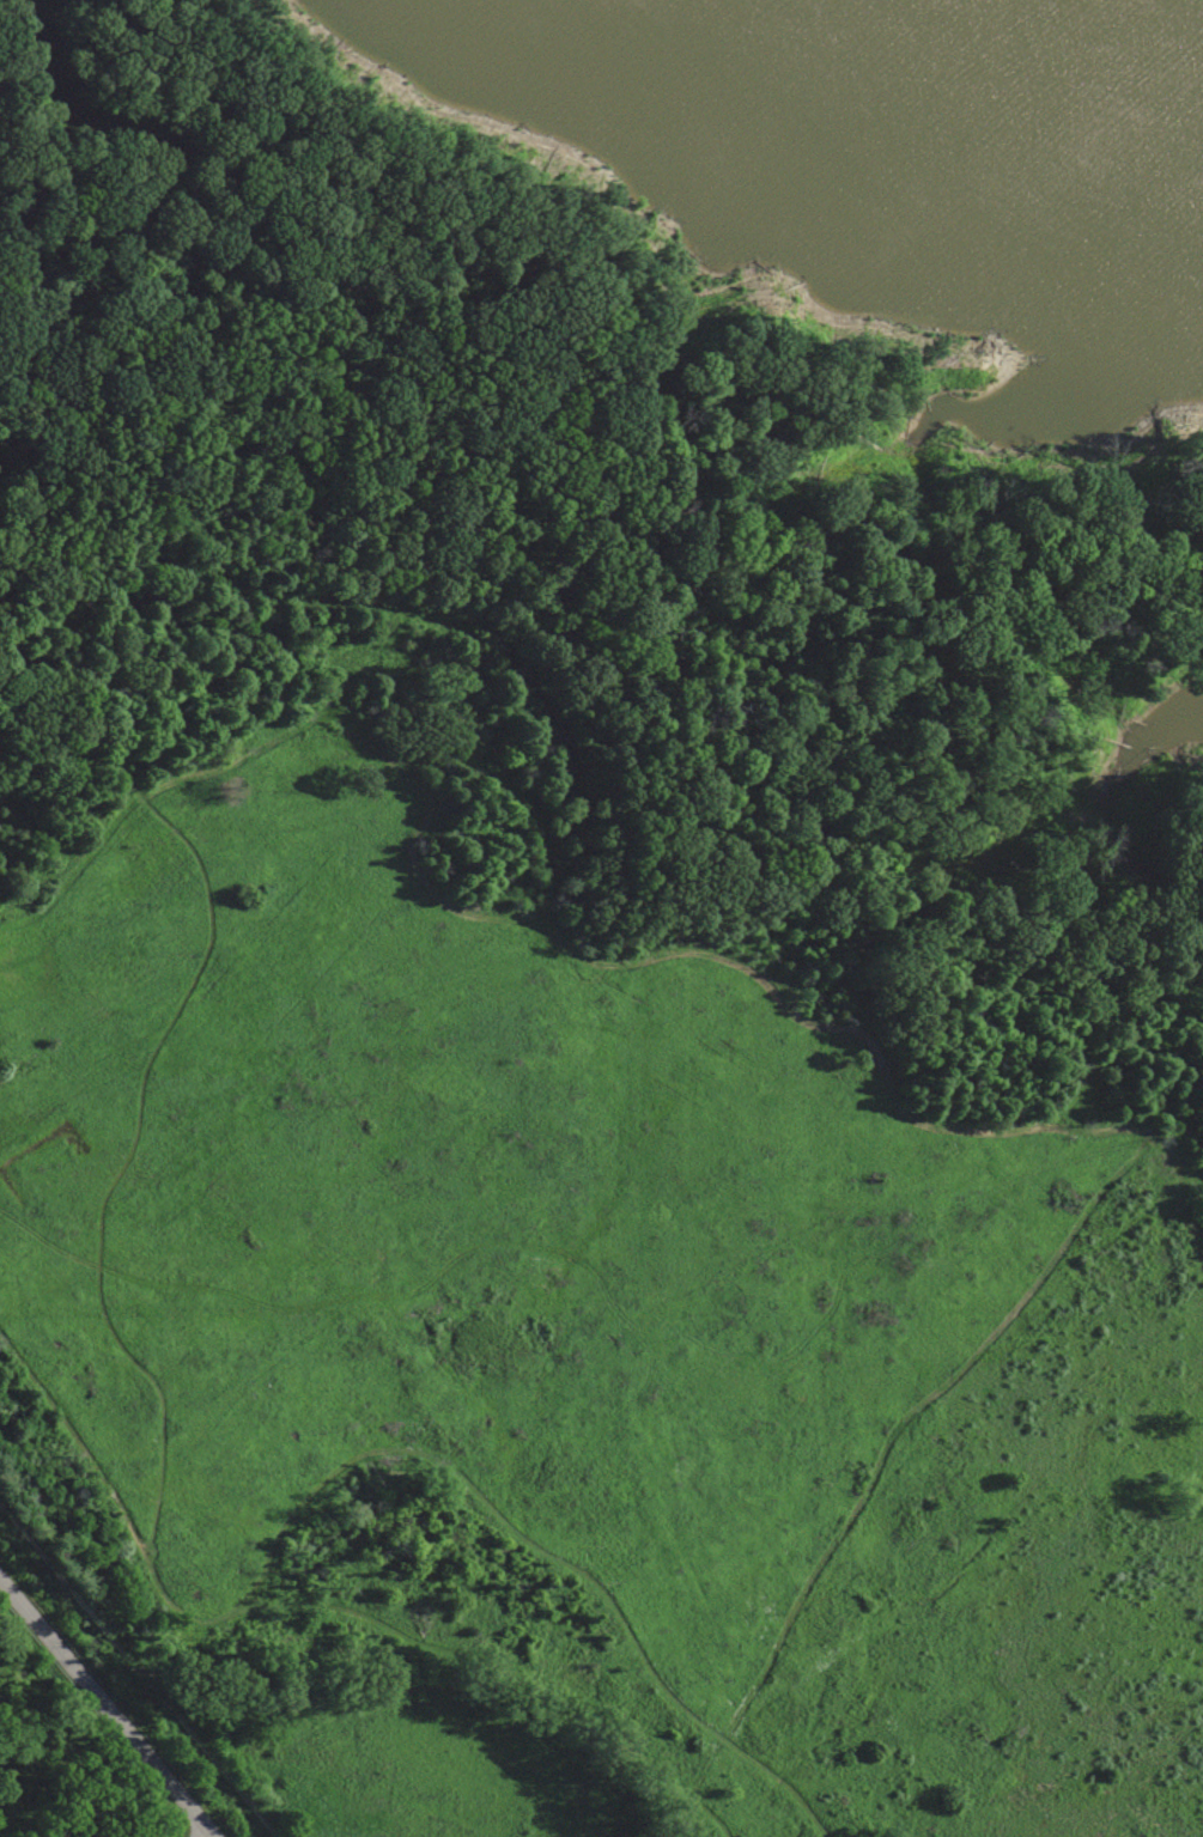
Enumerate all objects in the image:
river: (1175, 18)
road: (101, 1466)
road: (323, 1480)
road: (254, 1571)
road: (107, 1708)

